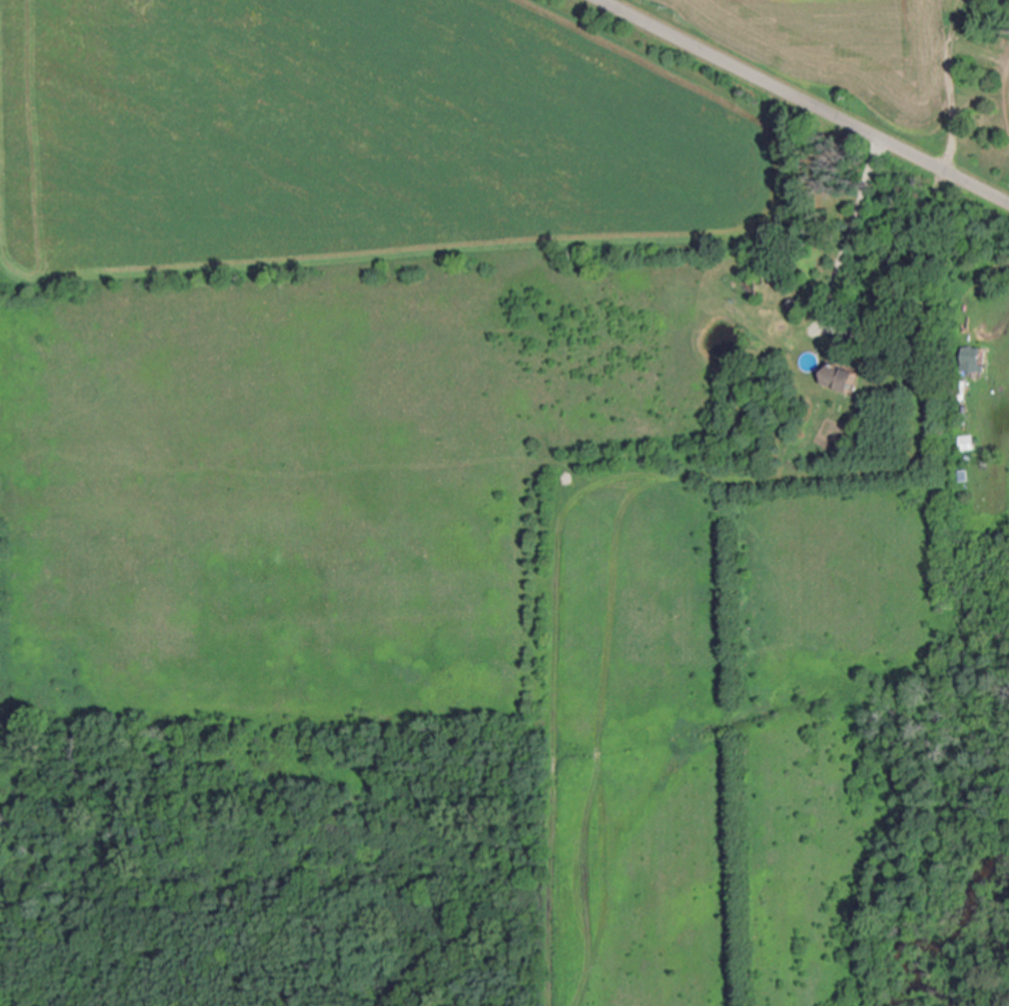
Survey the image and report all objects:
road: (799, 104)
building: (840, 378)
building: (966, 444)
river: (954, 938)

